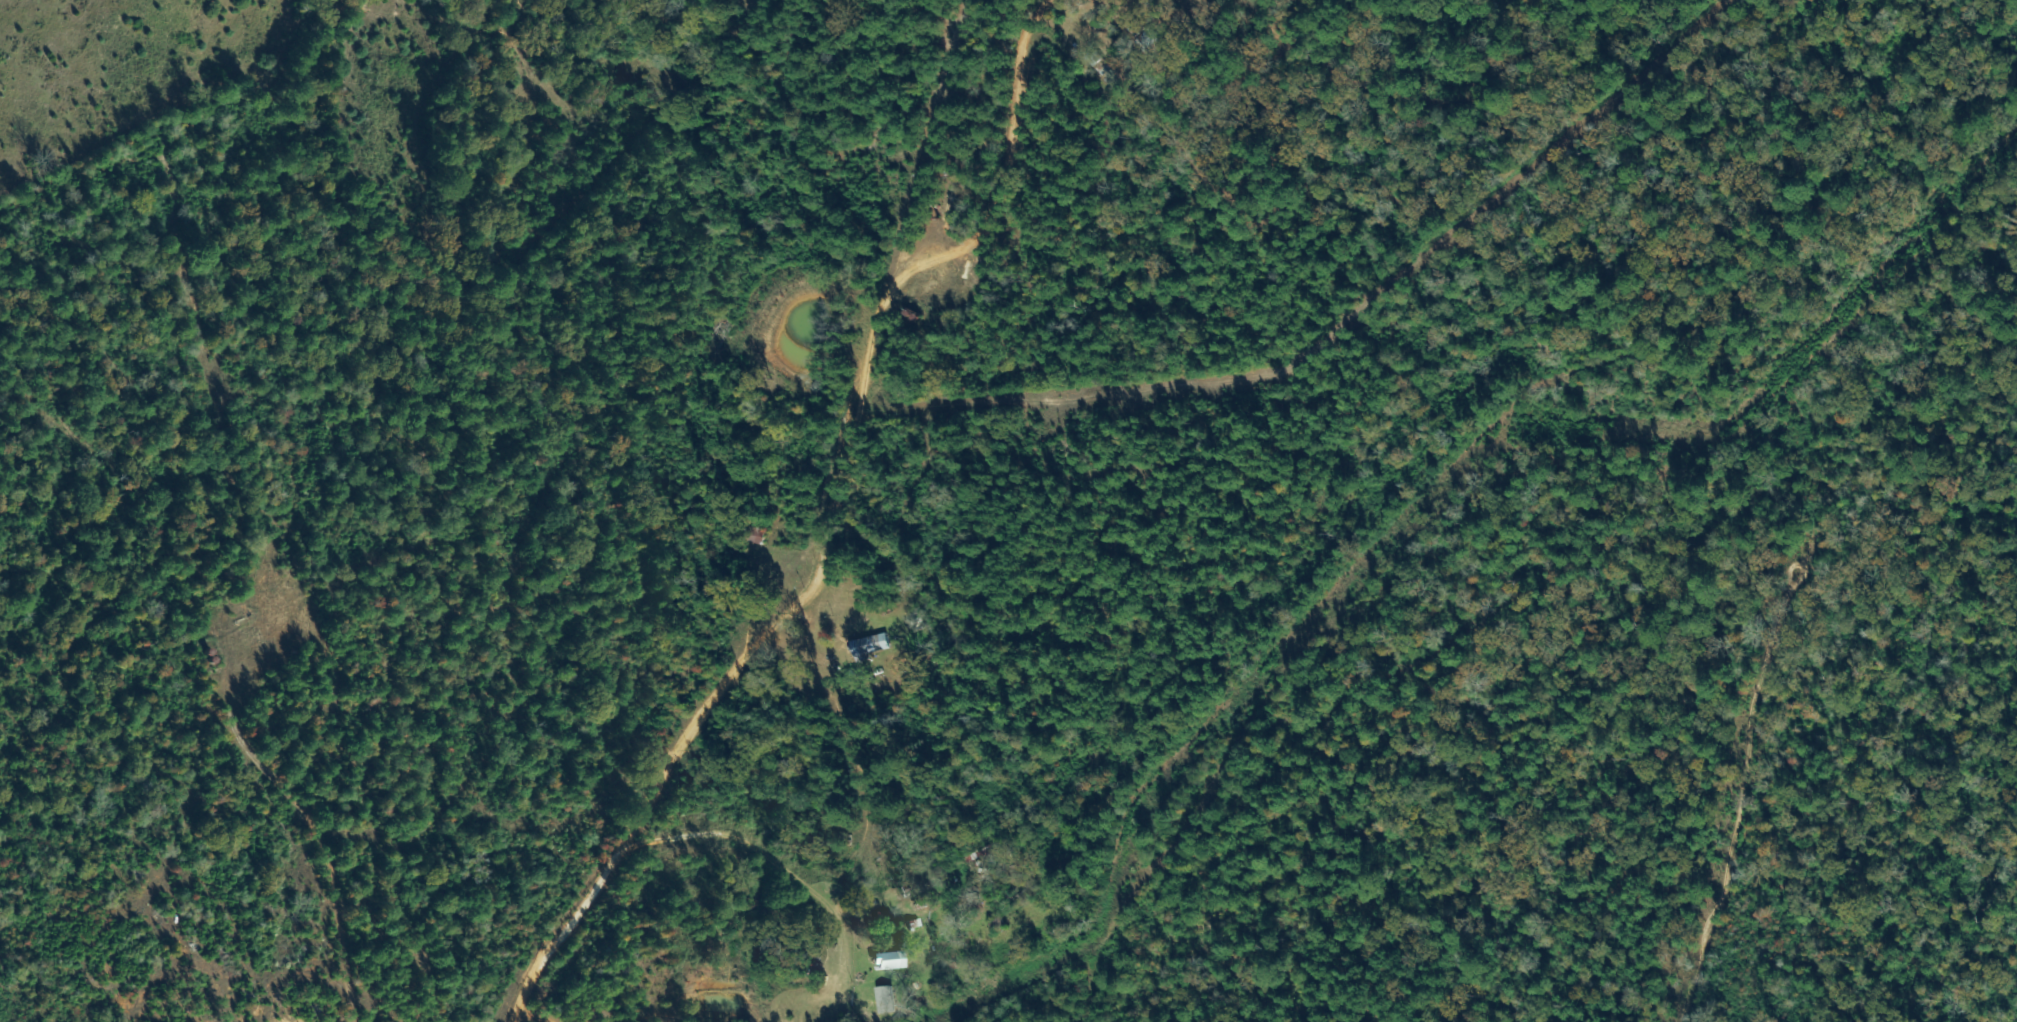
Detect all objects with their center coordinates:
petroleum well: (966, 265)
road: (831, 523)
building: (872, 648)
building: (891, 961)
building: (887, 1000)

